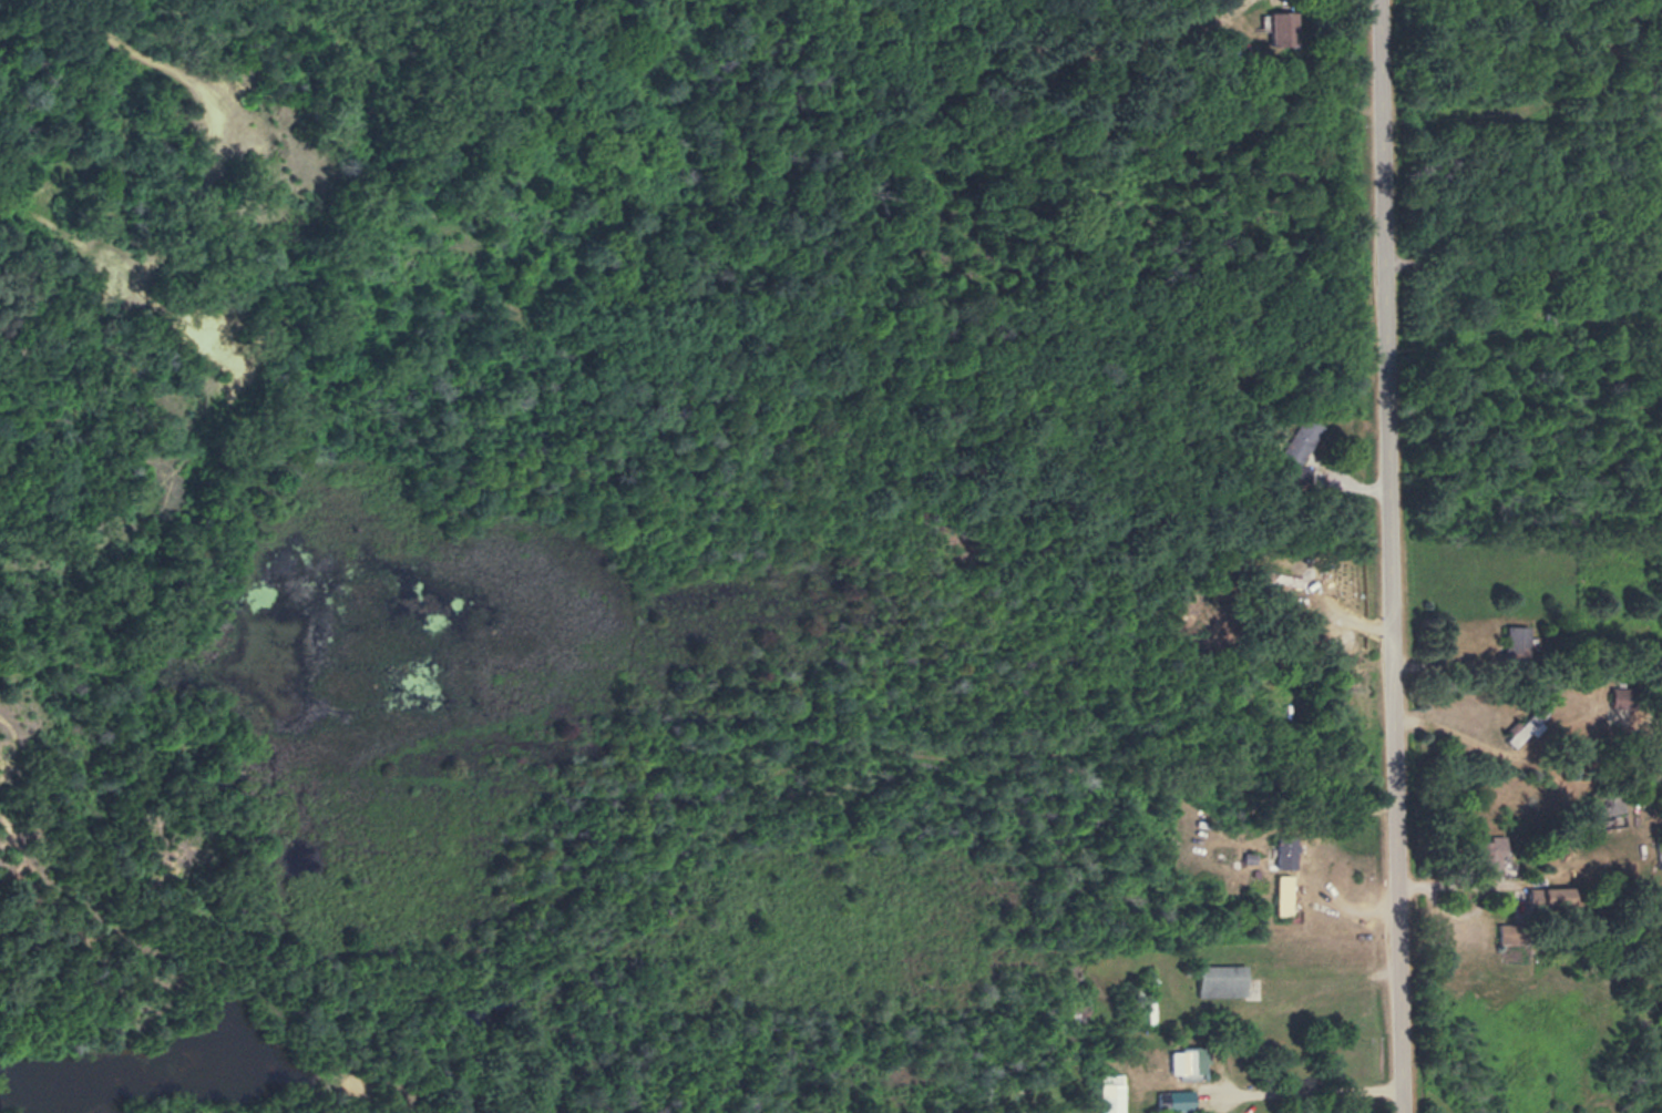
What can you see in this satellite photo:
road: (1392, 556)
building: (1514, 732)
road: (797, 759)
building: (1275, 850)
building: (1273, 894)
building: (1214, 980)
road: (1227, 1043)
building: (1170, 1061)
building: (1105, 1092)
building: (1172, 1100)

